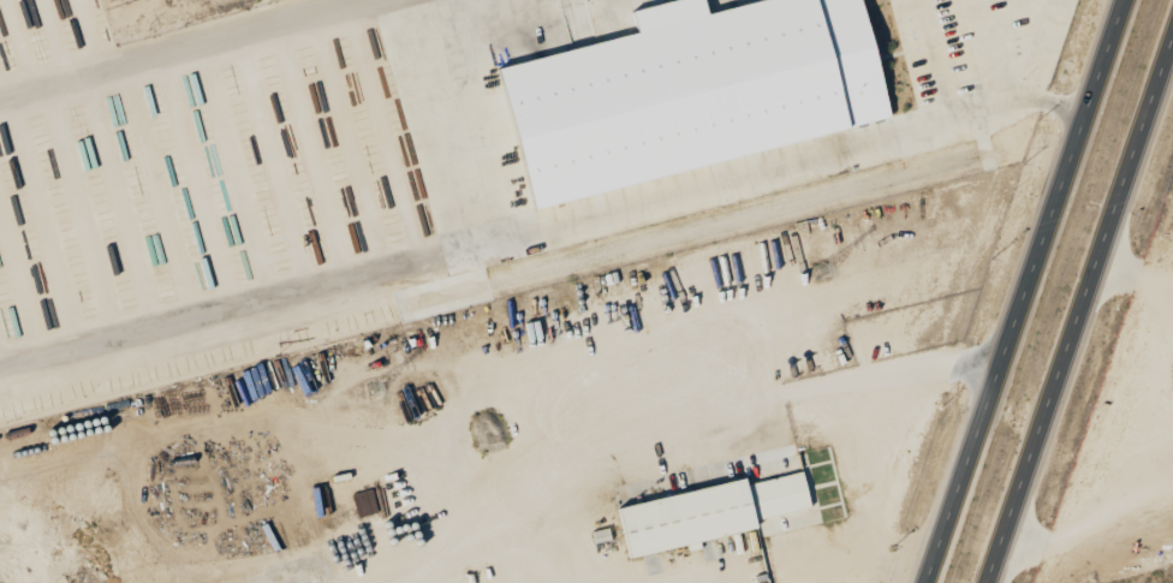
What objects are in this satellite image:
building: (695, 91)
power tower: (818, 269)
road: (1028, 291)
road: (1078, 305)
power tower: (376, 387)
building: (709, 513)

